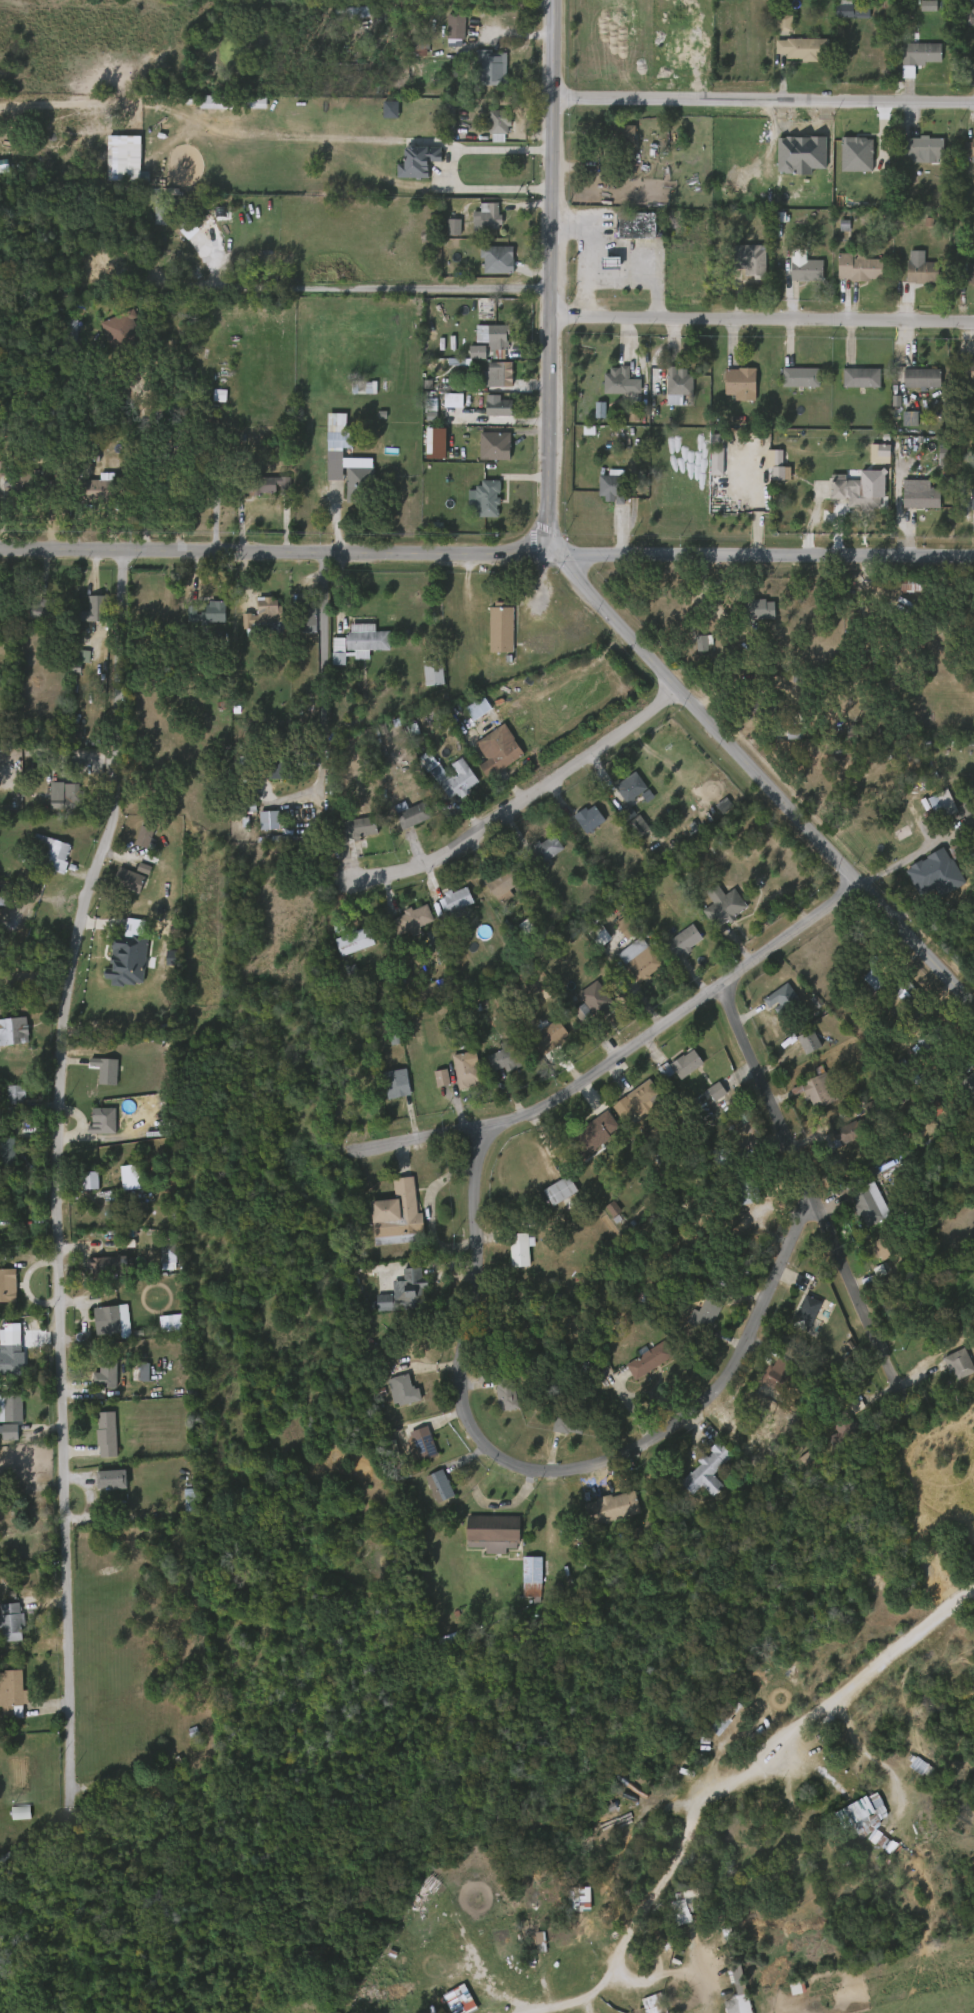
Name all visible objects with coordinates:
building: (970, 8)
building: (850, 9)
building: (351, 13)
building: (840, 15)
building: (340, 18)
building: (458, 26)
building: (774, 29)
building: (445, 32)
building: (806, 48)
building: (922, 53)
building: (492, 67)
road: (763, 99)
building: (208, 107)
building: (380, 115)
building: (500, 121)
building: (489, 127)
building: (617, 133)
building: (925, 146)
building: (970, 148)
building: (914, 155)
building: (119, 164)
building: (408, 167)
road: (442, 170)
building: (164, 209)
building: (485, 217)
building: (151, 220)
building: (637, 225)
building: (444, 232)
road: (578, 250)
building: (499, 259)
building: (757, 262)
building: (488, 265)
building: (858, 266)
building: (600, 268)
building: (921, 269)
building: (805, 270)
building: (746, 271)
building: (127, 272)
building: (970, 274)
road: (609, 286)
road: (356, 287)
road: (762, 322)
building: (122, 332)
building: (498, 337)
building: (74, 342)
building: (488, 342)
building: (467, 357)
building: (488, 359)
building: (968, 369)
building: (500, 373)
building: (799, 376)
building: (860, 376)
building: (921, 377)
building: (488, 380)
building: (618, 380)
building: (739, 382)
building: (851, 383)
building: (676, 384)
building: (911, 384)
building: (362, 386)
building: (442, 406)
building: (500, 408)
building: (488, 412)
building: (421, 416)
building: (899, 424)
building: (327, 436)
building: (426, 448)
building: (85, 456)
road: (143, 462)
building: (348, 468)
building: (769, 472)
building: (200, 478)
building: (53, 484)
building: (161, 484)
building: (268, 486)
building: (613, 486)
building: (19, 488)
building: (861, 490)
building: (99, 491)
building: (260, 492)
building: (959, 492)
building: (601, 493)
building: (486, 497)
building: (923, 497)
building: (973, 498)
building: (910, 503)
road: (487, 551)
road: (573, 576)
building: (912, 583)
building: (48, 609)
building: (758, 610)
building: (93, 612)
building: (209, 613)
building: (262, 613)
building: (305, 613)
building: (30, 616)
building: (198, 618)
building: (500, 628)
building: (355, 639)
building: (536, 643)
building: (329, 656)
road: (326, 664)
building: (430, 671)
building: (764, 707)
building: (479, 708)
building: (468, 715)
building: (499, 751)
building: (278, 769)
building: (267, 775)
building: (449, 775)
building: (446, 784)
building: (627, 794)
building: (72, 797)
building: (56, 800)
road: (518, 804)
building: (932, 810)
building: (412, 816)
building: (586, 820)
building: (356, 826)
building: (628, 831)
building: (134, 842)
building: (549, 847)
road: (917, 851)
building: (537, 854)
building: (57, 855)
building: (43, 858)
building: (937, 867)
building: (131, 880)
building: (501, 881)
building: (119, 885)
building: (6, 892)
building: (457, 900)
building: (724, 905)
building: (412, 919)
building: (615, 932)
building: (355, 940)
building: (686, 940)
building: (590, 941)
building: (645, 964)
building: (118, 965)
building: (862, 984)
building: (908, 991)
building: (895, 997)
building: (784, 999)
building: (593, 1003)
building: (772, 1005)
building: (908, 1021)
building: (15, 1030)
building: (554, 1034)
building: (934, 1038)
building: (541, 1041)
building: (798, 1047)
building: (509, 1056)
road: (619, 1056)
building: (493, 1062)
building: (681, 1067)
building: (467, 1069)
building: (108, 1070)
building: (96, 1075)
building: (456, 1075)
building: (655, 1075)
building: (397, 1084)
building: (965, 1084)
building: (385, 1089)
building: (815, 1089)
building: (14, 1094)
building: (644, 1095)
building: (105, 1122)
building: (93, 1126)
building: (849, 1132)
building: (594, 1134)
building: (7, 1152)
road: (58, 1174)
building: (126, 1177)
building: (80, 1185)
building: (747, 1185)
building: (562, 1190)
road: (812, 1195)
building: (868, 1204)
building: (602, 1214)
building: (399, 1215)
building: (388, 1244)
building: (519, 1248)
building: (885, 1248)
building: (872, 1254)
building: (106, 1264)
building: (10, 1285)
building: (407, 1293)
building: (706, 1314)
building: (811, 1315)
building: (796, 1318)
building: (694, 1319)
building: (113, 1320)
building: (161, 1327)
building: (6, 1354)
building: (15, 1358)
building: (650, 1359)
building: (958, 1362)
building: (111, 1372)
building: (777, 1376)
building: (95, 1380)
building: (402, 1390)
building: (507, 1392)
building: (496, 1401)
building: (13, 1408)
building: (569, 1423)
building: (558, 1429)
building: (846, 1431)
building: (107, 1434)
building: (4, 1436)
building: (832, 1437)
building: (97, 1439)
building: (422, 1442)
building: (407, 1449)
building: (705, 1470)
road: (552, 1471)
building: (116, 1479)
building: (102, 1484)
building: (438, 1485)
building: (429, 1491)
building: (613, 1509)
building: (490, 1531)
building: (529, 1575)
building: (13, 1621)
road: (874, 1667)
building: (14, 1693)
building: (742, 1796)
building: (864, 1814)
building: (612, 1836)
building: (878, 1850)
road: (660, 1881)
building: (601, 1895)
building: (414, 1896)
building: (528, 1944)
road: (661, 1976)
building: (531, 1978)
building: (729, 2000)

